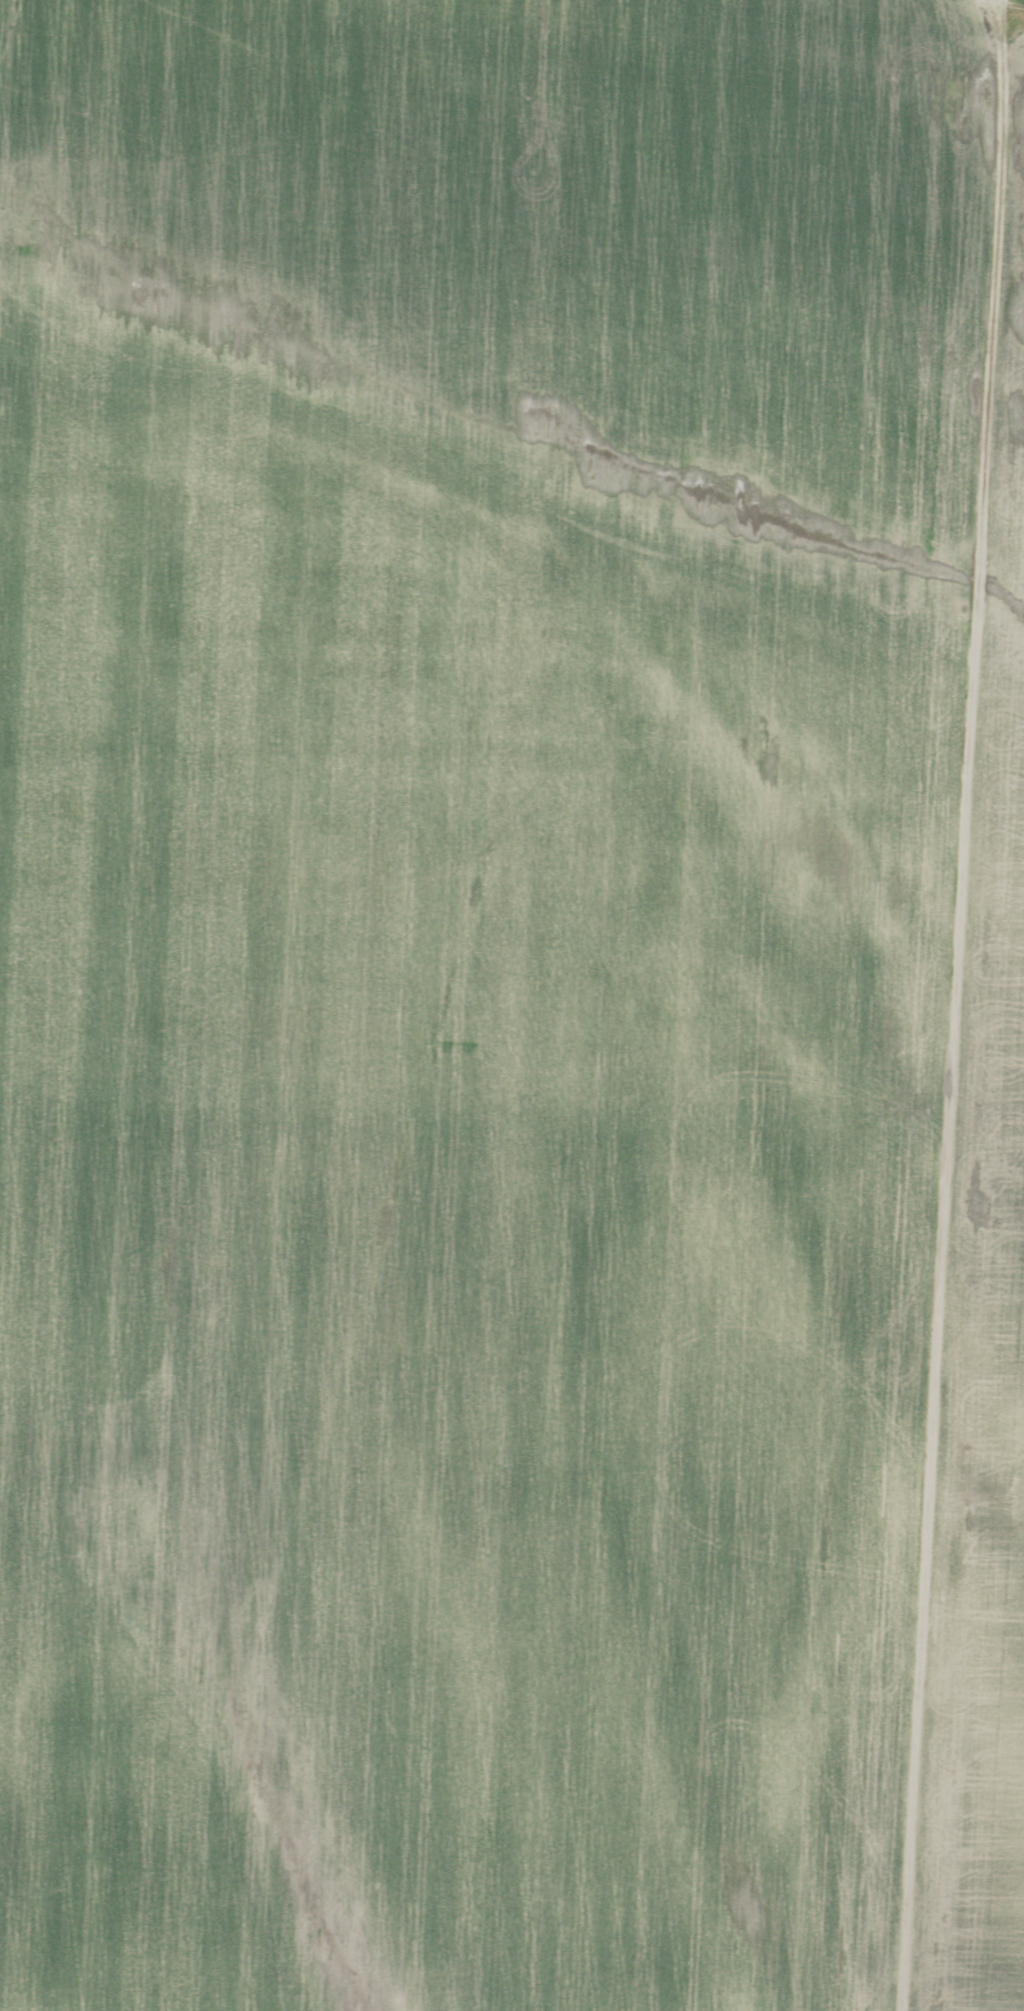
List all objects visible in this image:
crop: (475, 986)
crop: (987, 1322)

